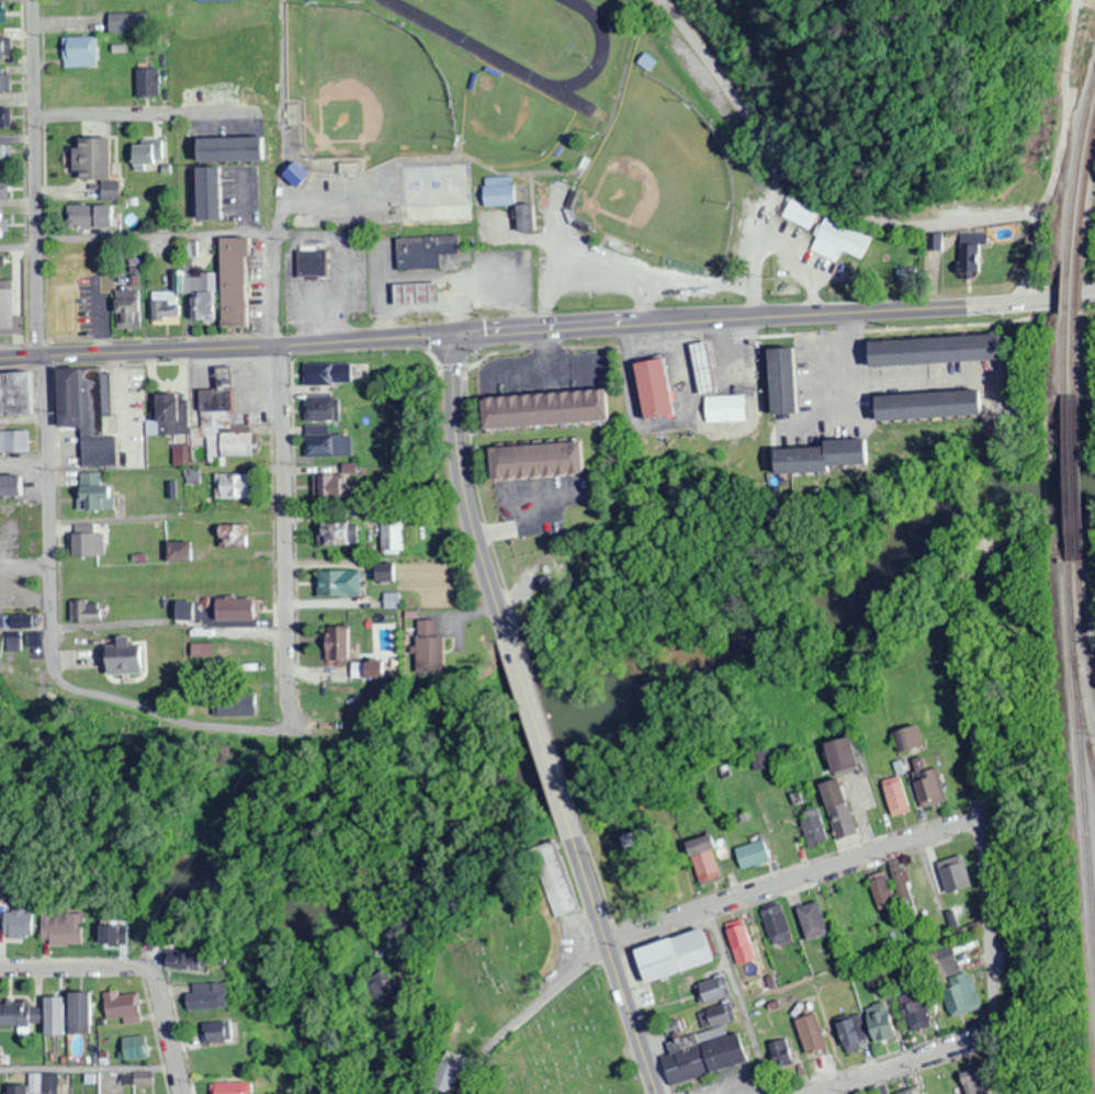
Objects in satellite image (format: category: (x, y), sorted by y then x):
building: (222, 0)
building: (4, 14)
building: (131, 24)
building: (4, 48)
building: (81, 53)
track: (496, 58)
building: (4, 84)
building: (146, 84)
park: (371, 90)
building: (4, 119)
road: (122, 121)
park: (512, 124)
building: (241, 153)
road: (1048, 155)
building: (7, 157)
building: (148, 160)
building: (97, 165)
railway: (1079, 168)
road: (33, 179)
building: (303, 179)
park: (663, 179)
road: (814, 183)
building: (5, 191)
building: (503, 193)
railway: (1088, 193)
building: (442, 194)
building: (217, 196)
building: (101, 211)
building: (800, 216)
building: (531, 221)
building: (4, 225)
building: (839, 243)
road: (16, 253)
building: (427, 253)
building: (972, 253)
road: (271, 286)
building: (230, 287)
building: (422, 294)
building: (171, 304)
building: (11, 309)
building: (131, 309)
road: (547, 328)
building: (942, 351)
building: (710, 368)
building: (332, 375)
road: (929, 380)
building: (793, 381)
building: (659, 391)
building: (19, 396)
building: (935, 407)
building: (730, 409)
building: (553, 410)
railway: (1068, 410)
railway: (1079, 410)
building: (326, 411)
building: (92, 414)
building: (171, 417)
building: (226, 422)
building: (15, 442)
building: (332, 447)
building: (828, 458)
building: (546, 462)
building: (15, 486)
building: (237, 487)
building: (337, 488)
road: (464, 488)
building: (98, 494)
building: (341, 535)
building: (235, 537)
building: (394, 538)
building: (91, 542)
road: (280, 544)
building: (388, 574)
road: (25, 580)
building: (341, 585)
building: (240, 609)
building: (82, 612)
railway: (1086, 625)
building: (341, 644)
building: (432, 647)
railway: (1077, 656)
building: (131, 657)
road: (52, 670)
building: (373, 670)
building: (236, 704)
road: (540, 737)
building: (911, 741)
river: (533, 756)
building: (848, 756)
building: (760, 759)
road: (981, 769)
building: (930, 786)
building: (901, 797)
building: (839, 810)
building: (817, 827)
building: (641, 839)
building: (756, 856)
building: (709, 868)
building: (956, 876)
building: (561, 880)
road: (797, 883)
building: (927, 892)
building: (883, 894)
building: (842, 915)
building: (814, 922)
building: (23, 925)
building: (778, 927)
building: (67, 928)
building: (117, 934)
building: (744, 943)
building: (680, 958)
building: (191, 961)
park: (494, 961)
road: (616, 966)
road: (68, 969)
building: (383, 990)
building: (718, 992)
building: (211, 999)
building: (956, 1002)
road: (738, 1003)
building: (125, 1006)
building: (916, 1012)
building: (87, 1014)
building: (16, 1016)
road: (531, 1016)
building: (61, 1017)
building: (720, 1022)
road: (167, 1023)
building: (887, 1023)
building: (224, 1034)
building: (814, 1035)
building: (851, 1035)
building: (138, 1049)
park: (567, 1049)
building: (784, 1056)
building: (712, 1059)
road: (910, 1064)
building: (978, 1079)
building: (147, 1080)
building: (47, 1084)
building: (236, 1089)
building: (19, 1090)
building: (914, 1092)

